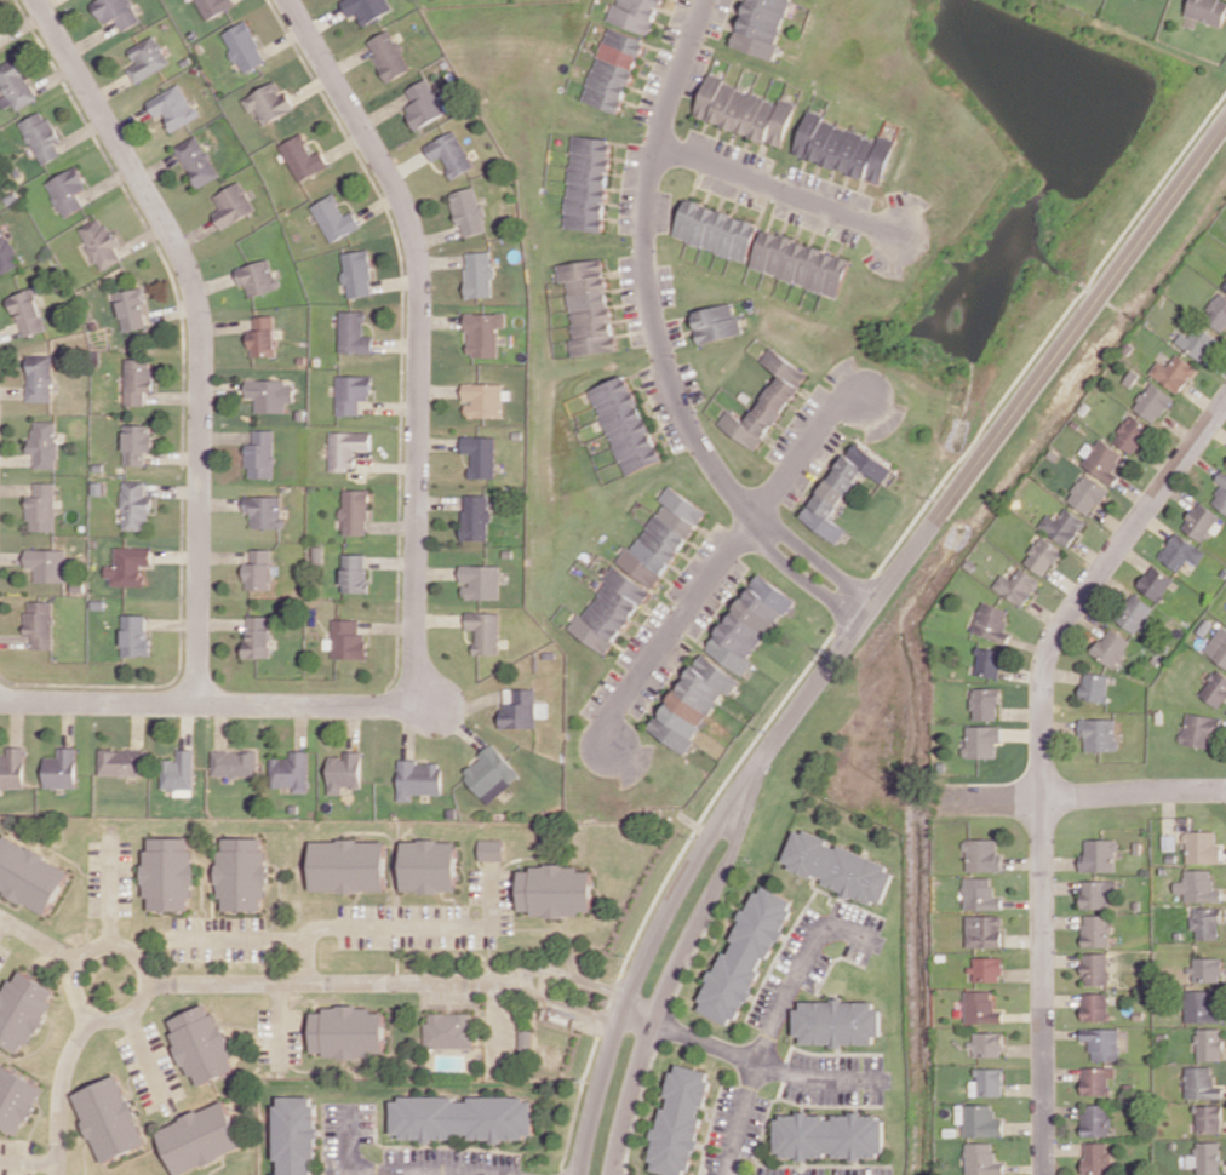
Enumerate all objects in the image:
building: (213, 6)
building: (366, 8)
building: (1207, 11)
building: (116, 12)
building: (635, 15)
building: (761, 25)
building: (244, 46)
building: (0, 48)
building: (389, 55)
building: (147, 58)
building: (613, 69)
building: (15, 85)
building: (269, 102)
building: (423, 103)
building: (173, 107)
building: (744, 110)
building: (41, 136)
building: (842, 148)
building: (449, 153)
building: (303, 157)
building: (196, 160)
building: (588, 182)
building: (67, 190)
road: (775, 190)
building: (231, 205)
building: (468, 211)
building: (334, 218)
building: (716, 229)
building: (99, 242)
building: (6, 252)
building: (800, 263)
building: (357, 273)
building: (479, 274)
building: (257, 276)
building: (1225, 285)
building: (588, 305)
building: (131, 309)
building: (1216, 311)
building: (27, 313)
building: (716, 322)
road: (199, 331)
building: (354, 332)
building: (483, 332)
building: (262, 336)
road: (414, 337)
building: (1197, 342)
road: (657, 344)
building: (1173, 372)
building: (39, 377)
building: (137, 380)
building: (353, 392)
building: (270, 394)
building: (483, 399)
building: (767, 401)
building: (1152, 401)
building: (626, 424)
building: (1132, 434)
building: (137, 442)
building: (44, 443)
building: (348, 448)
road: (802, 449)
building: (260, 454)
building: (481, 454)
building: (1102, 460)
building: (842, 488)
building: (1220, 492)
building: (1087, 493)
building: (134, 505)
building: (41, 506)
building: (264, 510)
building: (355, 511)
building: (477, 517)
building: (1202, 522)
building: (1062, 526)
building: (661, 538)
building: (1181, 551)
building: (1042, 555)
building: (47, 563)
building: (127, 566)
building: (259, 569)
building: (355, 573)
building: (481, 581)
building: (1155, 583)
building: (1018, 586)
building: (611, 609)
building: (1134, 613)
building: (992, 621)
building: (39, 623)
building: (749, 623)
road: (861, 629)
building: (486, 631)
building: (134, 635)
road: (666, 635)
building: (258, 636)
building: (349, 640)
building: (1218, 646)
building: (1111, 647)
building: (990, 661)
building: (1095, 686)
building: (1215, 688)
building: (692, 701)
road: (207, 703)
building: (985, 703)
building: (520, 707)
building: (1198, 729)
building: (1098, 734)
building: (981, 740)
road: (1043, 760)
building: (120, 762)
building: (234, 762)
building: (12, 767)
building: (59, 768)
building: (178, 770)
building: (292, 770)
building: (345, 772)
building: (491, 774)
building: (419, 778)
road: (1087, 796)
building: (1202, 847)
building: (491, 849)
building: (982, 855)
building: (1099, 855)
building: (349, 865)
building: (430, 865)
building: (838, 867)
building: (168, 872)
building: (242, 873)
building: (29, 875)
building: (1197, 885)
building: (555, 890)
building: (1098, 893)
building: (980, 894)
road: (109, 899)
building: (1205, 922)
road: (397, 924)
building: (984, 930)
building: (1096, 930)
road: (40, 938)
road: (245, 939)
road: (92, 947)
building: (744, 955)
building: (989, 968)
building: (1095, 968)
building: (1205, 969)
road: (273, 985)
road: (660, 990)
building: (981, 1007)
building: (1094, 1007)
building: (22, 1009)
building: (837, 1021)
road: (282, 1024)
building: (448, 1030)
building: (348, 1031)
building: (201, 1043)
road: (764, 1043)
building: (987, 1043)
building: (1101, 1043)
building: (1208, 1044)
road: (144, 1049)
road: (743, 1057)
building: (1095, 1081)
building: (987, 1082)
building: (1199, 1083)
building: (16, 1099)
building: (462, 1117)
building: (109, 1118)
building: (1207, 1118)
building: (1096, 1119)
building: (677, 1120)
building: (980, 1120)
building: (297, 1135)
building: (829, 1135)
building: (201, 1137)
road: (346, 1144)
road: (28, 1157)
building: (1096, 1157)
building: (1204, 1157)
building: (981, 1158)
road: (391, 1171)

